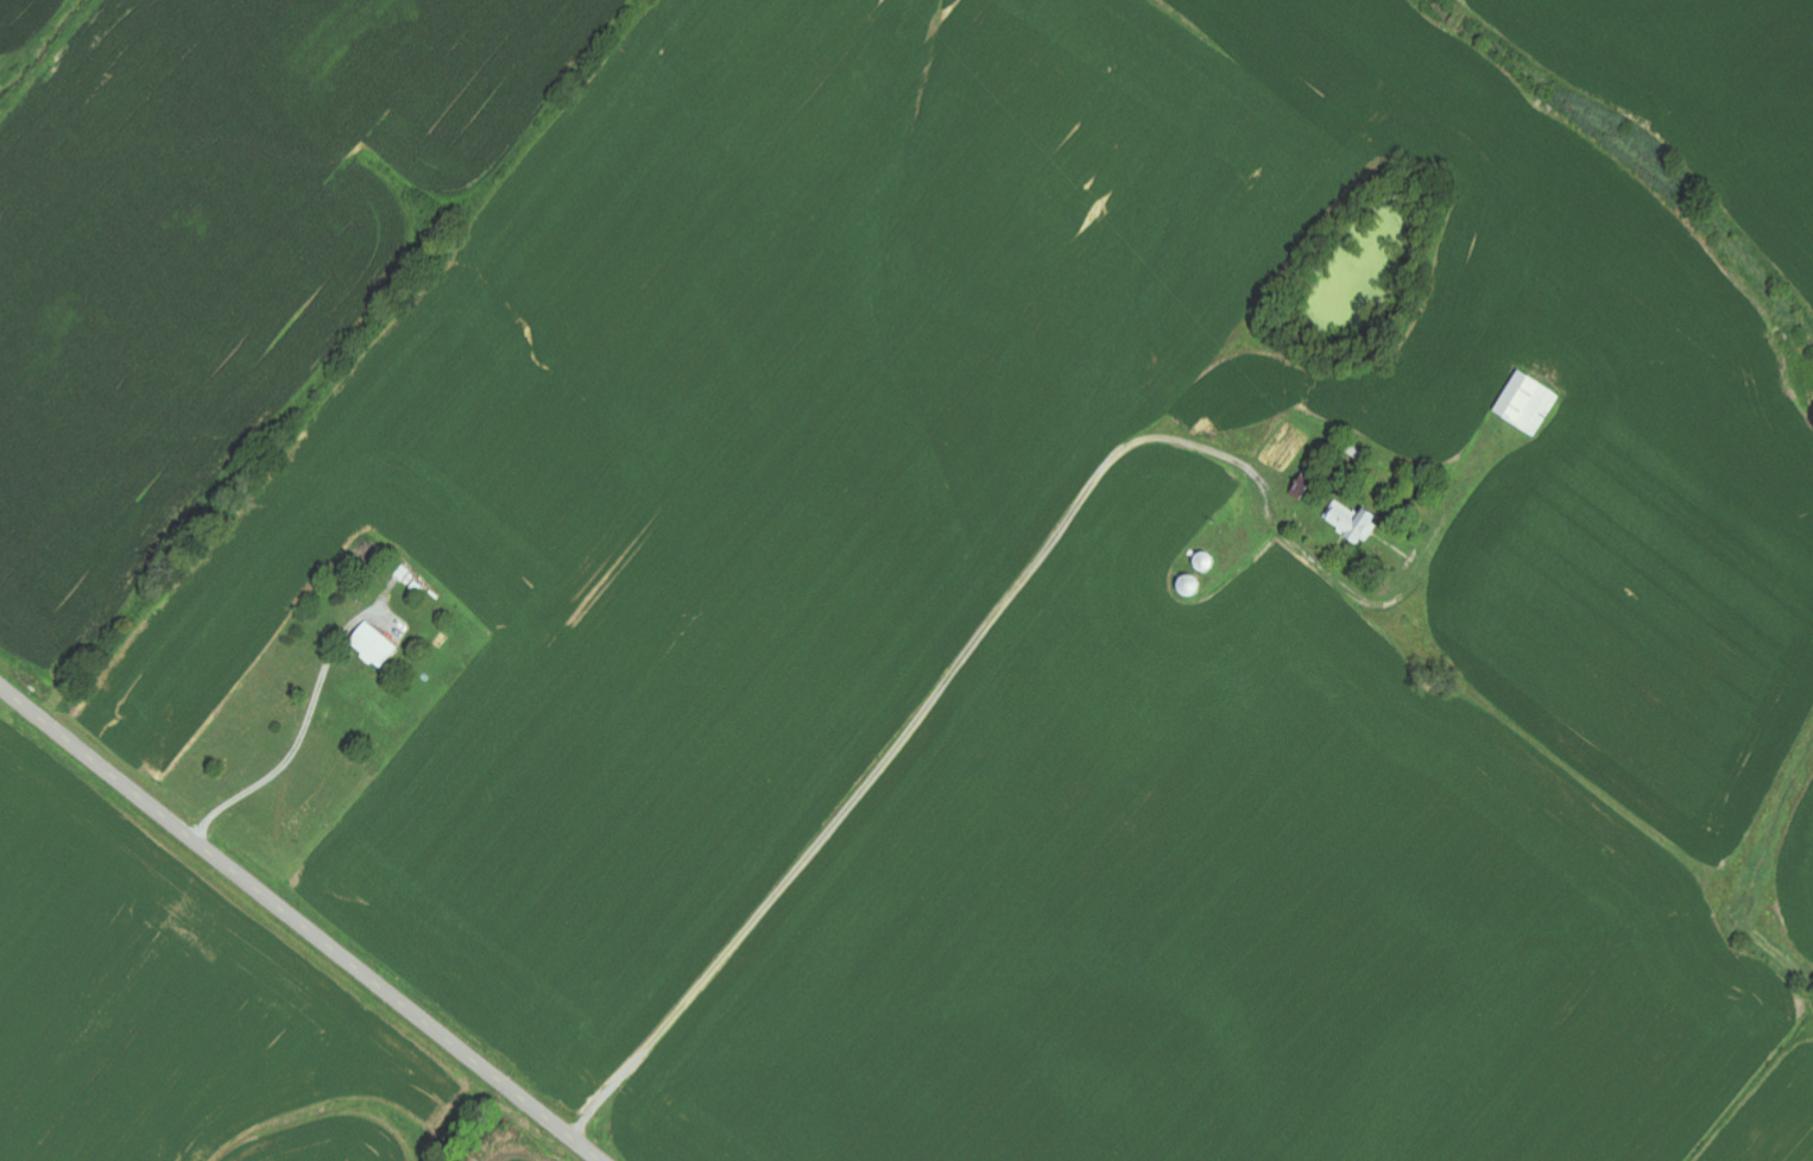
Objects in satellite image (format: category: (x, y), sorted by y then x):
building: (1530, 405)
road: (1120, 442)
building: (1359, 528)
building: (374, 646)
road: (301, 922)

